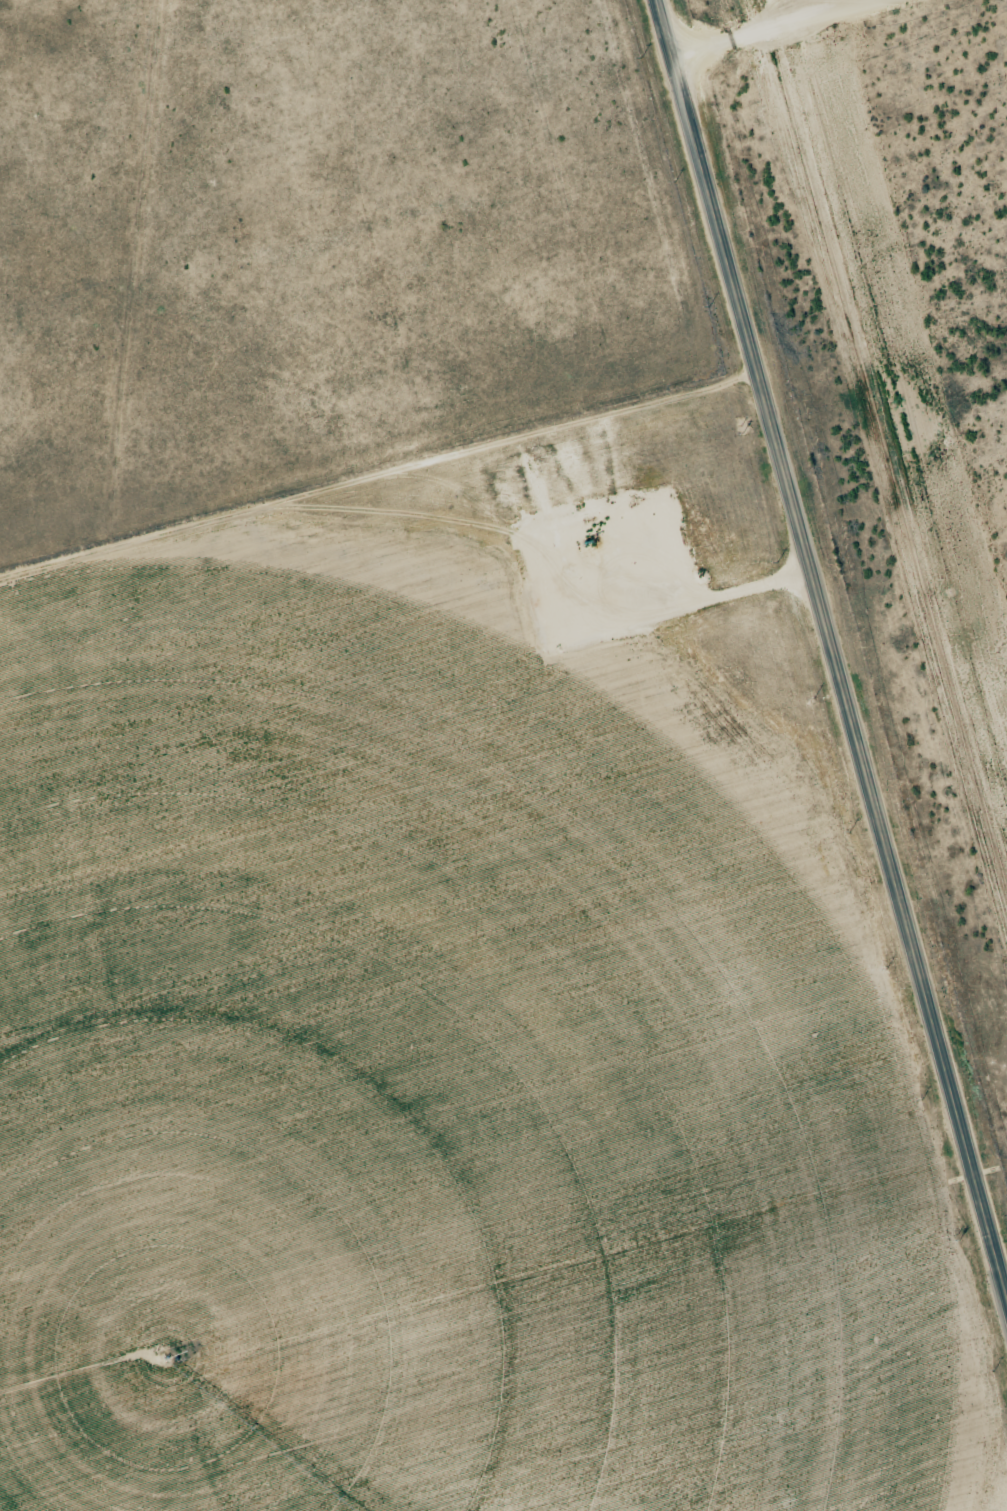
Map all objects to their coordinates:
road: (775, 28)
petroleum well: (593, 539)
road: (832, 646)
river: (798, 1277)

